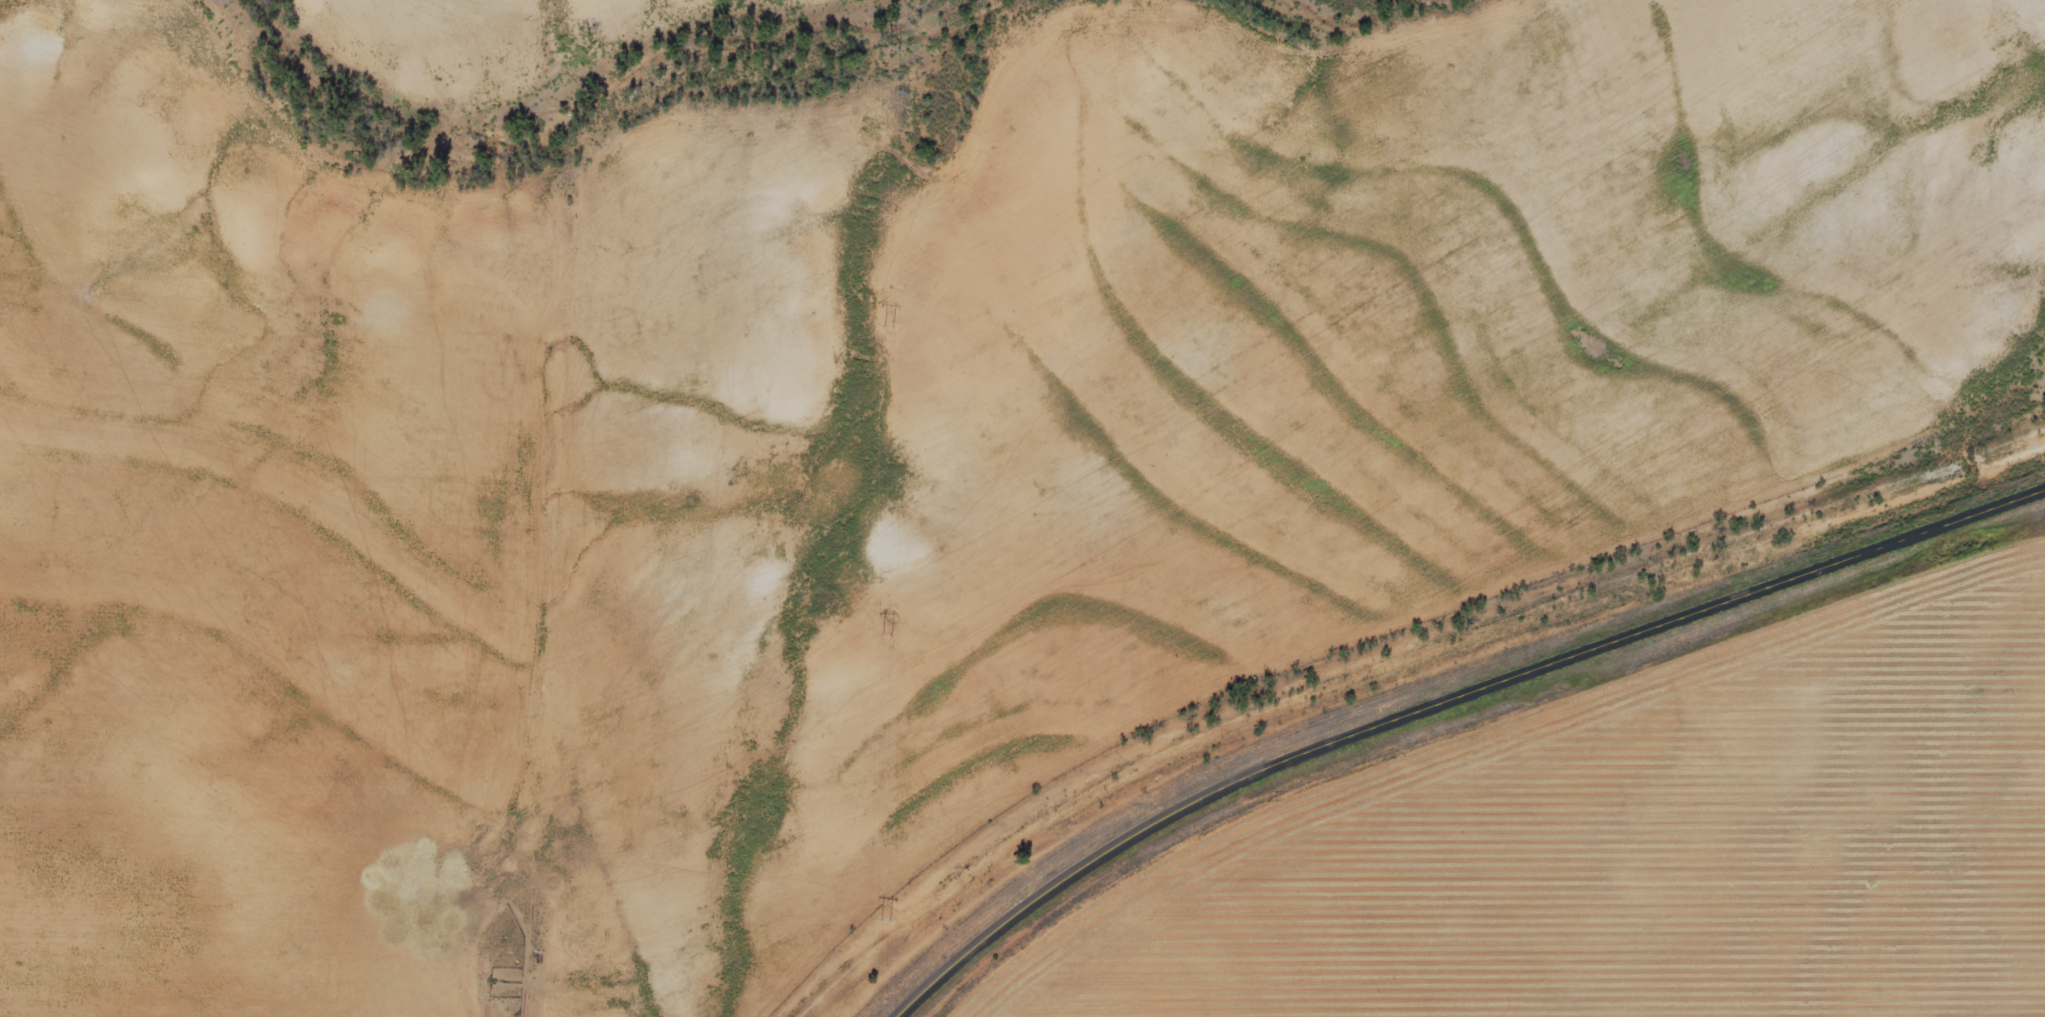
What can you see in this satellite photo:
power tower: (886, 44)
power tower: (888, 325)
power tower: (887, 635)
railway: (1410, 670)
road: (1449, 701)
power tower: (885, 918)

